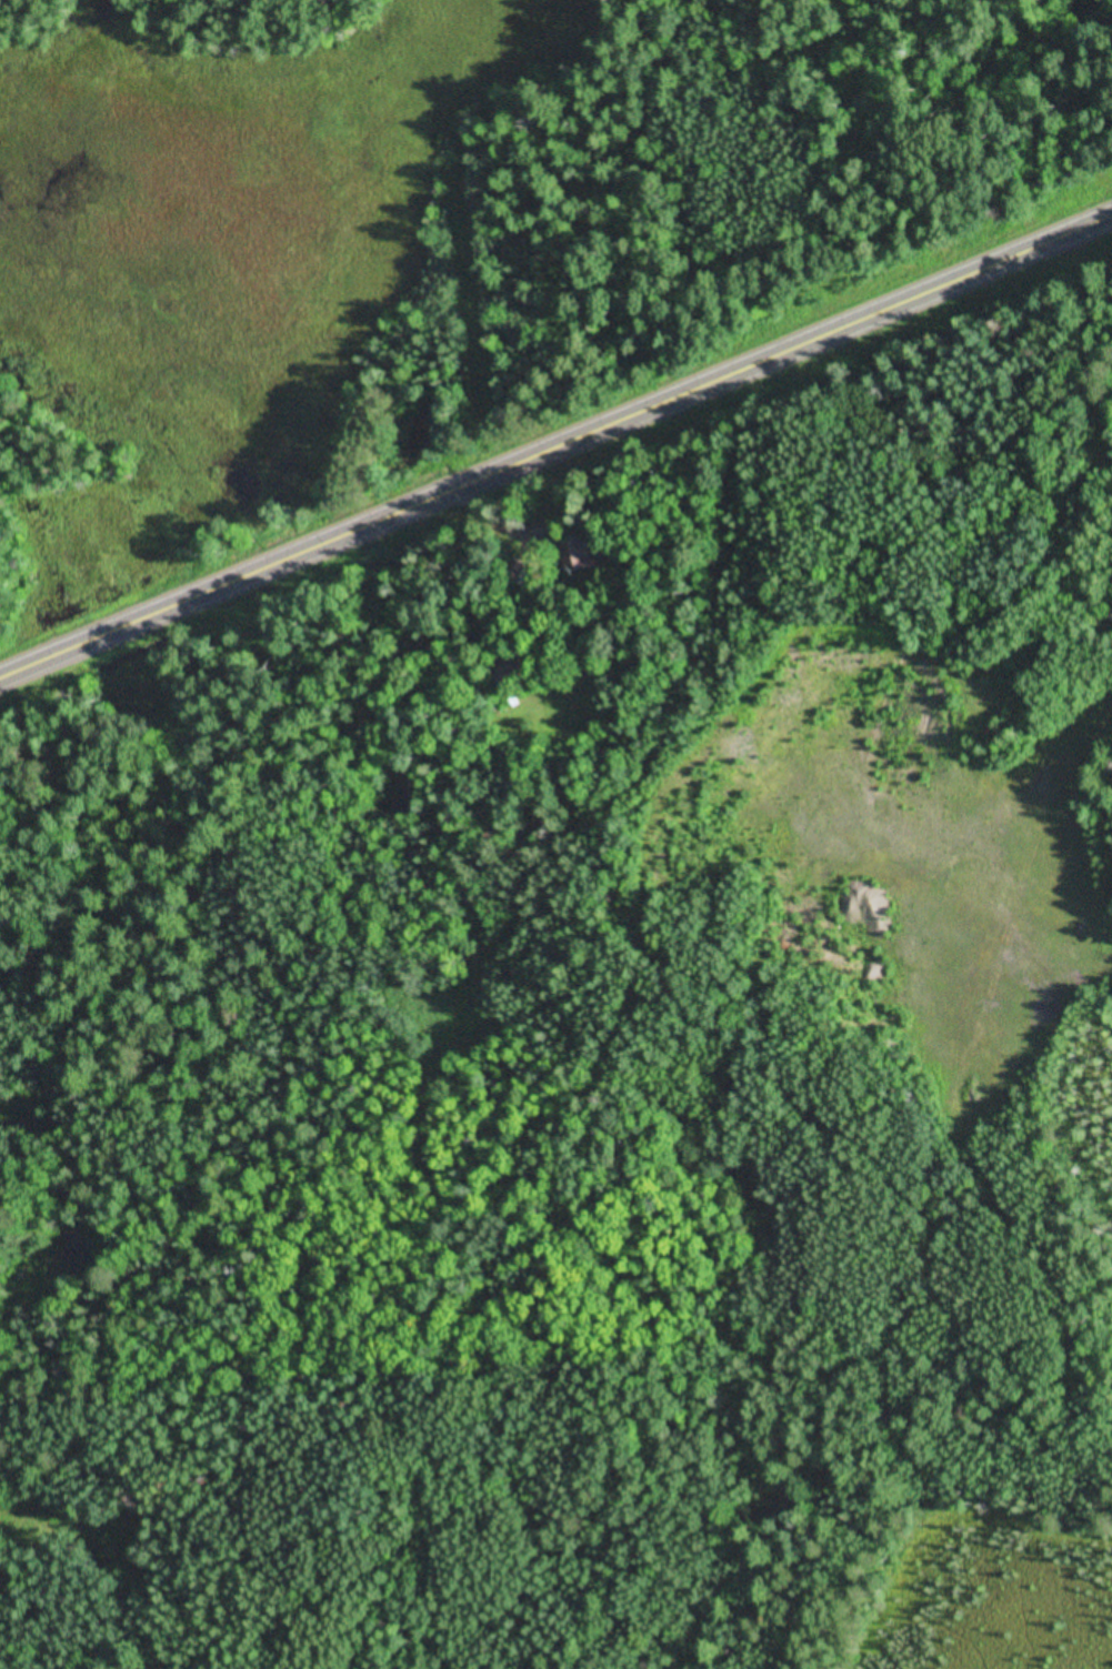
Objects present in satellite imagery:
road: (555, 446)
building: (574, 555)

